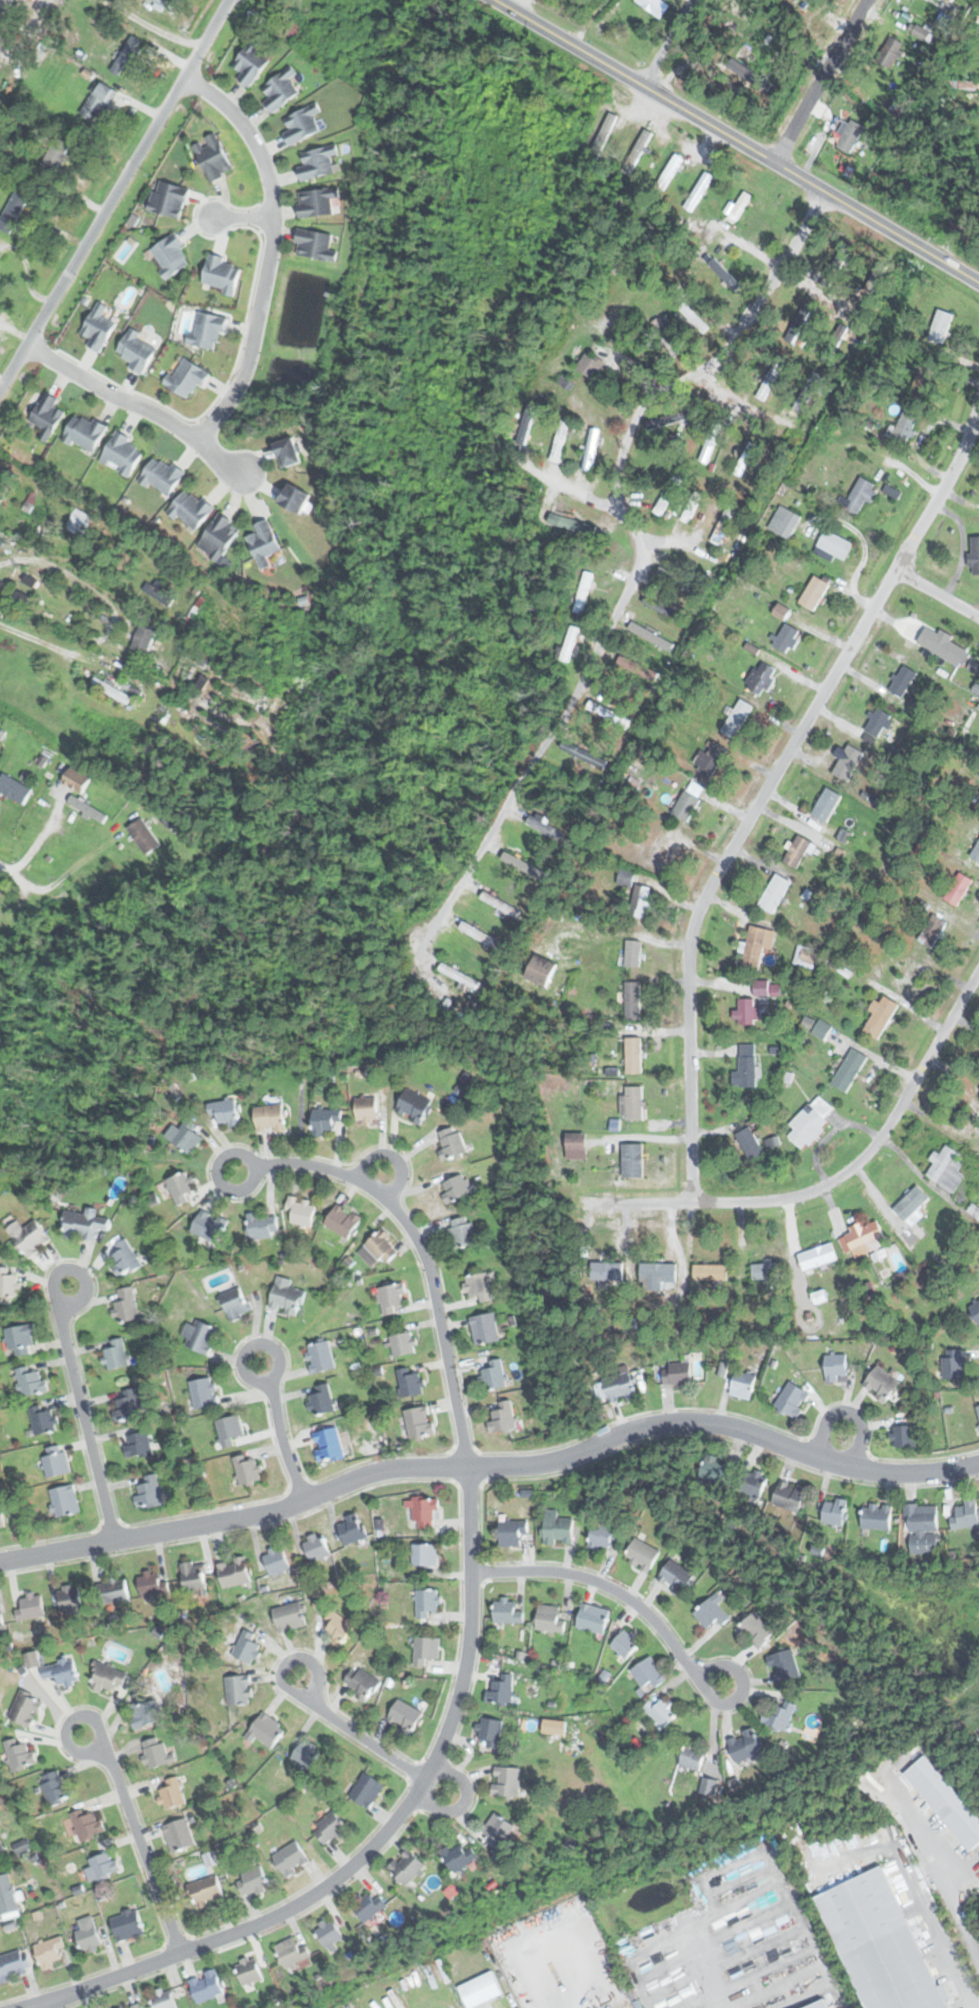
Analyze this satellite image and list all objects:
building: (277, 1)
road: (46, 2)
building: (654, 6)
building: (978, 20)
road: (152, 24)
building: (917, 31)
road: (666, 42)
building: (127, 52)
building: (891, 52)
building: (250, 63)
road: (822, 81)
building: (279, 91)
building: (98, 102)
building: (302, 125)
building: (856, 131)
road: (737, 140)
building: (56, 154)
building: (214, 159)
building: (317, 163)
building: (699, 192)
road: (114, 193)
building: (317, 202)
building: (739, 208)
building: (13, 211)
road: (240, 215)
road: (969, 221)
building: (315, 246)
road: (267, 247)
building: (170, 256)
building: (0, 269)
building: (221, 274)
building: (723, 275)
road: (817, 293)
building: (693, 318)
road: (745, 321)
building: (98, 327)
building: (939, 327)
building: (207, 330)
building: (665, 337)
building: (137, 350)
building: (590, 366)
building: (186, 377)
building: (770, 377)
building: (921, 387)
building: (807, 392)
road: (138, 405)
building: (48, 413)
building: (904, 427)
building: (84, 432)
building: (559, 440)
building: (714, 441)
building: (591, 449)
building: (121, 454)
building: (746, 458)
building: (162, 474)
road: (562, 487)
building: (859, 495)
building: (191, 509)
building: (784, 521)
building: (572, 523)
building: (217, 537)
building: (262, 542)
building: (833, 545)
building: (975, 554)
building: (583, 592)
building: (814, 592)
building: (158, 594)
road: (935, 598)
road: (114, 614)
building: (647, 631)
building: (144, 637)
building: (786, 637)
building: (570, 643)
building: (943, 646)
road: (592, 656)
building: (637, 667)
building: (761, 678)
building: (902, 680)
building: (111, 690)
building: (607, 713)
building: (737, 718)
building: (878, 722)
building: (580, 753)
building: (713, 760)
building: (848, 762)
road: (768, 784)
building: (14, 789)
building: (826, 804)
building: (686, 806)
building: (87, 809)
building: (544, 826)
building: (144, 836)
building: (660, 851)
building: (797, 851)
building: (976, 851)
building: (514, 860)
building: (626, 877)
building: (958, 888)
road: (38, 889)
building: (775, 893)
building: (640, 901)
building: (501, 904)
building: (933, 931)
building: (483, 936)
building: (757, 944)
building: (633, 953)
building: (542, 970)
building: (458, 975)
building: (761, 987)
building: (633, 1000)
building: (747, 1011)
building: (880, 1017)
building: (634, 1055)
building: (745, 1066)
building: (849, 1070)
building: (633, 1102)
building: (413, 1105)
building: (367, 1108)
building: (225, 1111)
building: (270, 1117)
building: (325, 1120)
building: (811, 1121)
building: (185, 1136)
building: (452, 1143)
building: (749, 1143)
building: (633, 1160)
building: (946, 1167)
road: (847, 1170)
building: (180, 1186)
building: (456, 1188)
building: (912, 1203)
building: (301, 1210)
building: (343, 1221)
building: (86, 1223)
building: (263, 1224)
building: (209, 1225)
building: (463, 1231)
building: (29, 1236)
building: (863, 1238)
building: (382, 1247)
road: (419, 1249)
building: (818, 1256)
building: (124, 1257)
building: (608, 1270)
building: (765, 1270)
building: (710, 1272)
building: (658, 1276)
building: (10, 1282)
building: (478, 1287)
building: (286, 1296)
building: (390, 1298)
building: (235, 1303)
building: (126, 1305)
building: (975, 1310)
building: (484, 1329)
building: (200, 1336)
building: (21, 1340)
building: (403, 1344)
building: (115, 1353)
building: (320, 1356)
building: (955, 1364)
building: (835, 1366)
building: (678, 1373)
building: (494, 1375)
building: (32, 1380)
building: (410, 1382)
building: (881, 1384)
building: (619, 1385)
building: (743, 1385)
building: (203, 1393)
building: (322, 1399)
building: (792, 1400)
building: (127, 1405)
building: (978, 1409)
road: (80, 1410)
building: (502, 1418)
building: (43, 1420)
building: (419, 1422)
building: (229, 1430)
road: (277, 1430)
building: (904, 1436)
building: (137, 1444)
building: (328, 1444)
flagpole: (603, 1459)
building: (56, 1462)
building: (718, 1466)
road: (491, 1467)
building: (247, 1469)
building: (754, 1483)
building: (149, 1492)
building: (790, 1496)
building: (64, 1501)
building: (425, 1511)
building: (835, 1511)
building: (965, 1513)
building: (879, 1517)
building: (2, 1518)
building: (557, 1528)
building: (351, 1529)
building: (922, 1529)
building: (512, 1532)
building: (603, 1537)
building: (316, 1546)
building: (424, 1555)
building: (642, 1555)
building: (276, 1560)
building: (233, 1572)
building: (194, 1576)
building: (676, 1577)
building: (154, 1583)
road: (608, 1587)
building: (115, 1591)
building: (70, 1598)
building: (426, 1602)
building: (33, 1606)
building: (506, 1611)
building: (711, 1612)
building: (289, 1616)
building: (1, 1618)
building: (550, 1618)
building: (593, 1618)
building: (337, 1628)
building: (757, 1630)
building: (626, 1643)
building: (247, 1646)
building: (425, 1650)
building: (785, 1666)
building: (61, 1672)
building: (648, 1673)
building: (107, 1676)
building: (362, 1682)
building: (239, 1690)
building: (501, 1690)
building: (25, 1709)
building: (661, 1710)
building: (145, 1714)
building: (404, 1715)
building: (780, 1715)
building: (266, 1729)
building: (491, 1734)
road: (364, 1740)
building: (745, 1746)
building: (157, 1752)
building: (18, 1754)
building: (306, 1754)
building: (693, 1756)
building: (506, 1782)
building: (56, 1787)
building: (367, 1790)
building: (173, 1794)
building: (945, 1801)
building: (87, 1824)
building: (329, 1827)
building: (498, 1830)
building: (179, 1835)
road: (136, 1836)
road: (379, 1836)
building: (2, 1846)
building: (458, 1857)
building: (291, 1859)
building: (102, 1866)
building: (406, 1868)
building: (252, 1881)
building: (207, 1891)
building: (7, 1896)
building: (364, 1907)
building: (127, 1925)
building: (328, 1932)
building: (87, 1937)
building: (879, 1944)
building: (291, 1952)
building: (47, 1953)
building: (12, 1966)
building: (248, 1970)
building: (206, 1986)
building: (480, 1990)
building: (163, 1999)
building: (822, 2005)
building: (135, 2006)

